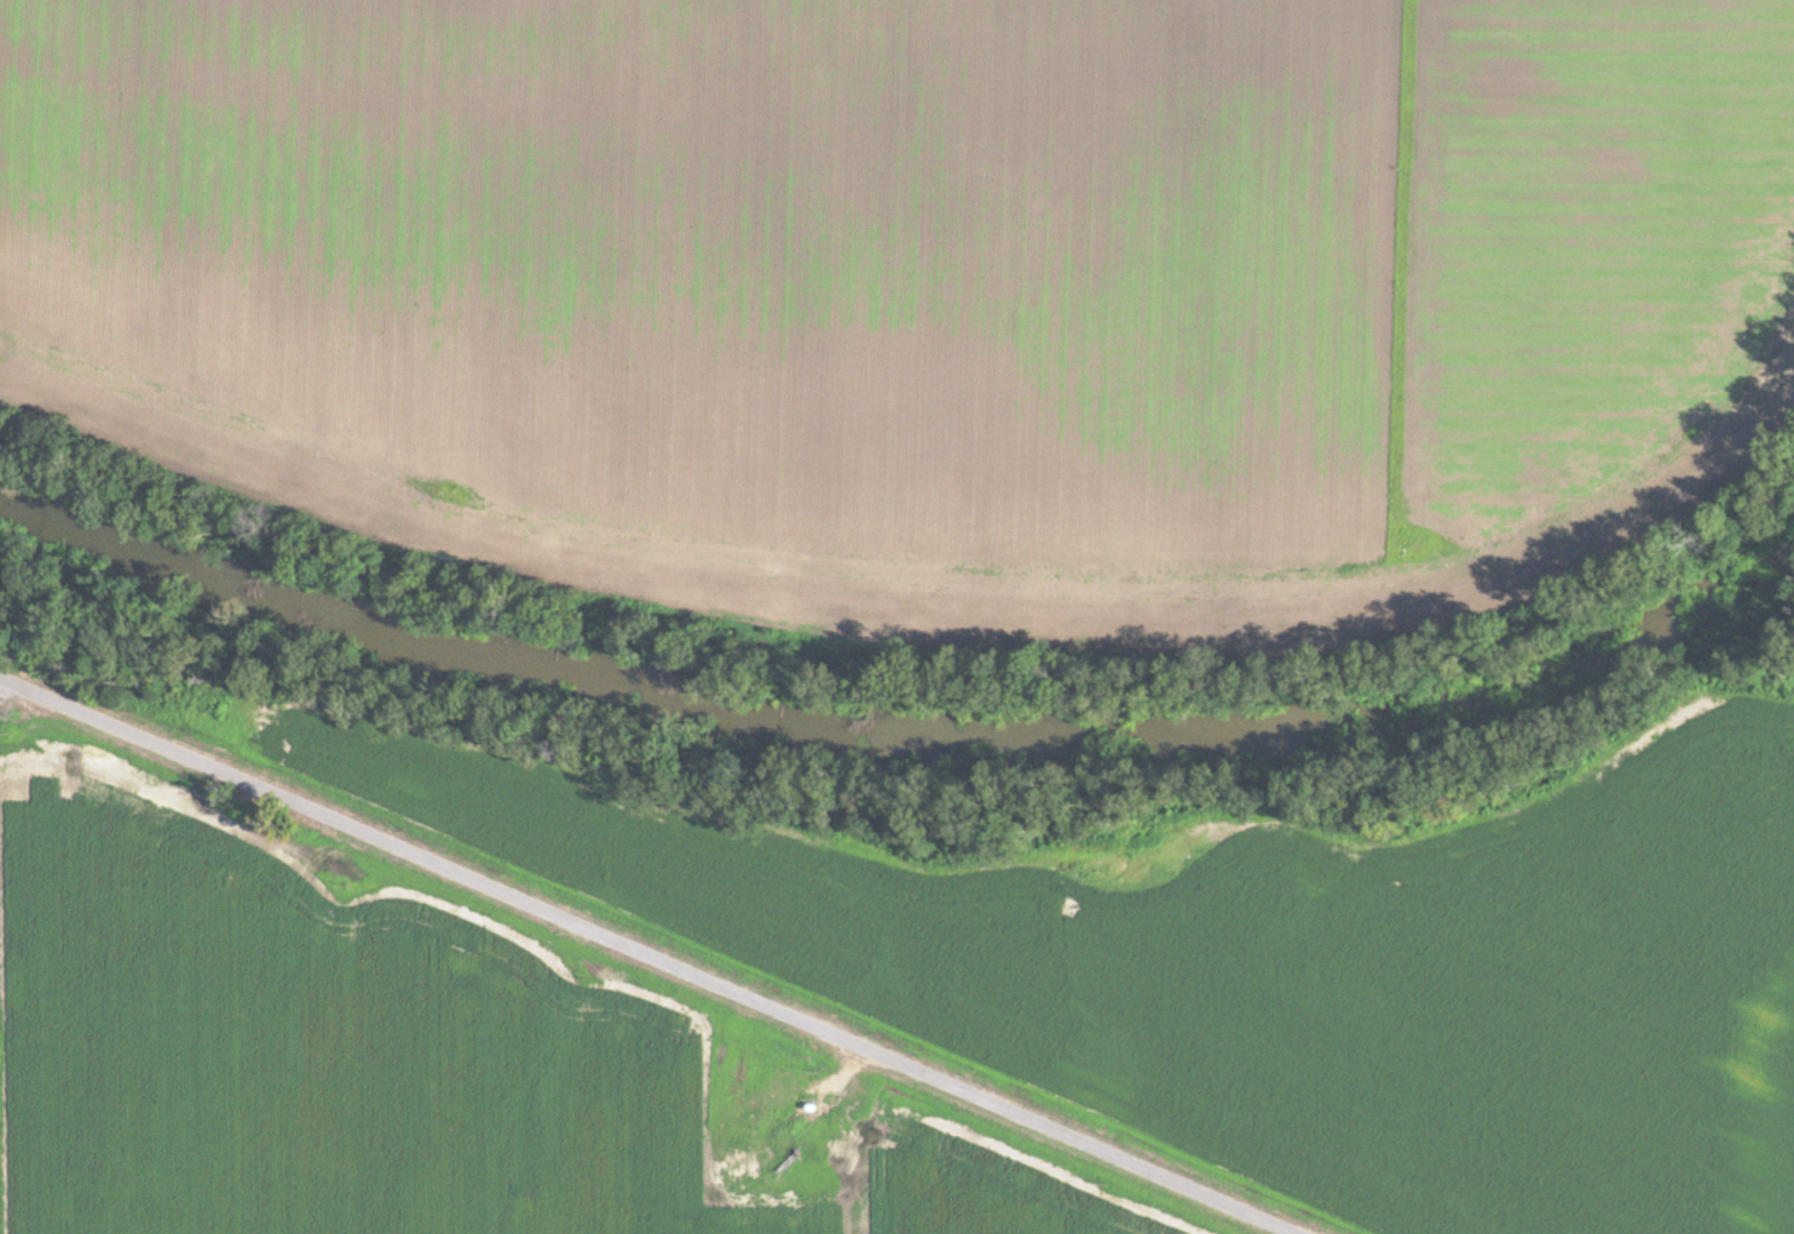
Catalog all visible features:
river: (906, 714)
road: (664, 955)
building: (784, 1092)

